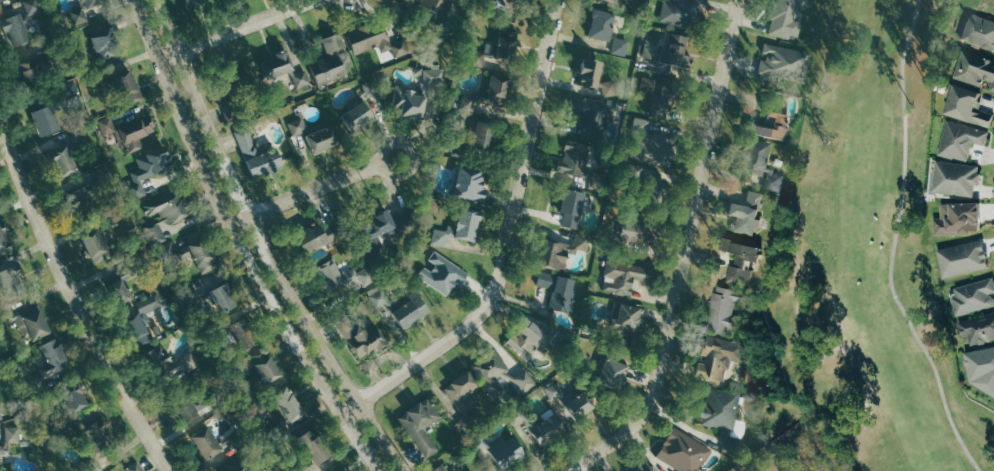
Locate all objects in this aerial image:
building: (1, 0)
building: (604, 2)
building: (191, 3)
building: (83, 10)
building: (424, 10)
building: (679, 13)
building: (516, 18)
building: (785, 18)
building: (18, 24)
road: (249, 26)
building: (599, 26)
building: (978, 32)
building: (102, 41)
building: (381, 42)
building: (618, 47)
building: (497, 51)
building: (666, 51)
road: (171, 56)
building: (327, 61)
building: (770, 64)
building: (275, 67)
building: (975, 71)
building: (33, 72)
building: (432, 76)
building: (592, 78)
building: (117, 88)
building: (658, 88)
building: (369, 89)
building: (230, 93)
building: (492, 93)
building: (408, 103)
building: (662, 104)
building: (965, 107)
building: (355, 115)
building: (590, 117)
building: (42, 118)
building: (769, 121)
building: (298, 126)
building: (125, 133)
building: (482, 138)
building: (321, 140)
building: (963, 140)
building: (649, 145)
building: (254, 155)
building: (752, 158)
building: (60, 163)
building: (576, 163)
building: (149, 169)
building: (957, 178)
building: (771, 182)
building: (468, 184)
road: (325, 186)
building: (650, 194)
building: (81, 200)
building: (569, 208)
building: (744, 214)
building: (164, 215)
building: (960, 219)
building: (106, 220)
building: (389, 223)
road: (240, 224)
building: (463, 226)
building: (640, 229)
building: (315, 237)
building: (3, 243)
road: (506, 243)
road: (893, 244)
road: (265, 245)
road: (236, 246)
building: (93, 247)
building: (559, 253)
road: (684, 253)
building: (188, 255)
building: (964, 259)
building: (740, 262)
building: (440, 274)
building: (621, 277)
building: (340, 278)
building: (10, 281)
building: (118, 284)
building: (557, 291)
road: (77, 295)
building: (212, 297)
building: (975, 297)
building: (147, 303)
building: (401, 307)
building: (724, 311)
building: (625, 320)
building: (30, 326)
building: (977, 329)
building: (136, 331)
building: (240, 334)
building: (531, 338)
building: (365, 341)
building: (52, 355)
building: (717, 359)
building: (155, 360)
building: (261, 368)
building: (982, 371)
building: (610, 373)
building: (496, 375)
building: (72, 397)
building: (461, 399)
building: (286, 404)
building: (182, 405)
building: (577, 406)
building: (1, 414)
building: (721, 415)
building: (419, 425)
building: (549, 429)
building: (10, 435)
building: (204, 443)
building: (95, 444)
building: (310, 446)
building: (499, 451)
building: (681, 451)
building: (0, 457)
building: (232, 466)
building: (133, 467)
building: (442, 468)
building: (642, 468)
building: (299, 469)
building: (469, 469)

